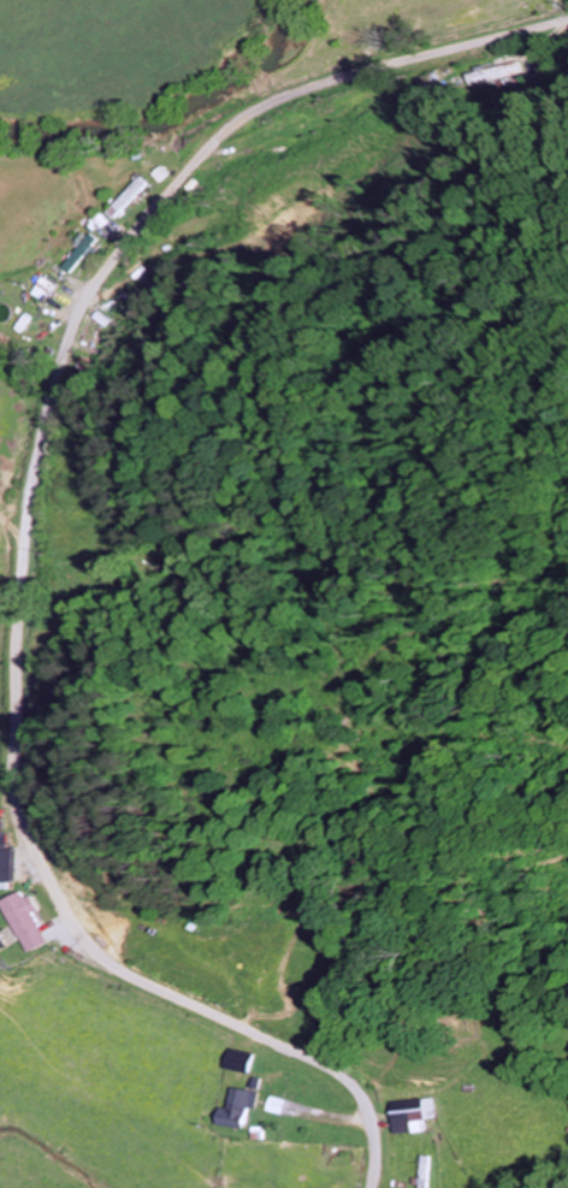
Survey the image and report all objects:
building: (492, 73)
building: (162, 176)
building: (132, 196)
building: (85, 255)
road: (25, 539)
building: (7, 859)
building: (26, 922)
building: (235, 1063)
building: (271, 1107)
building: (235, 1110)

